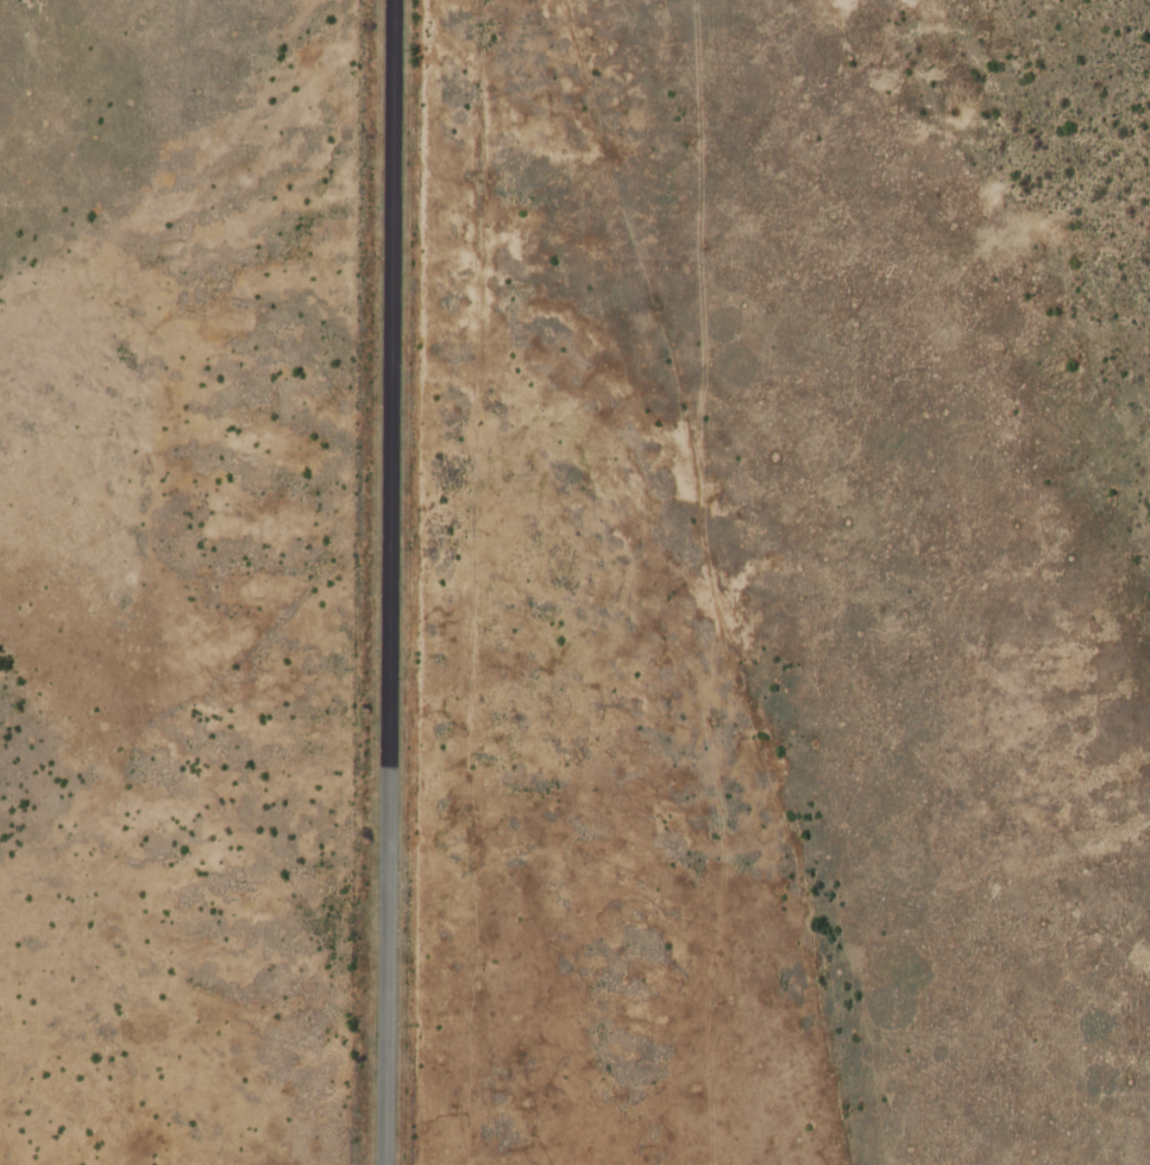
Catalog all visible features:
road: (385, 582)
road: (244, 1066)

